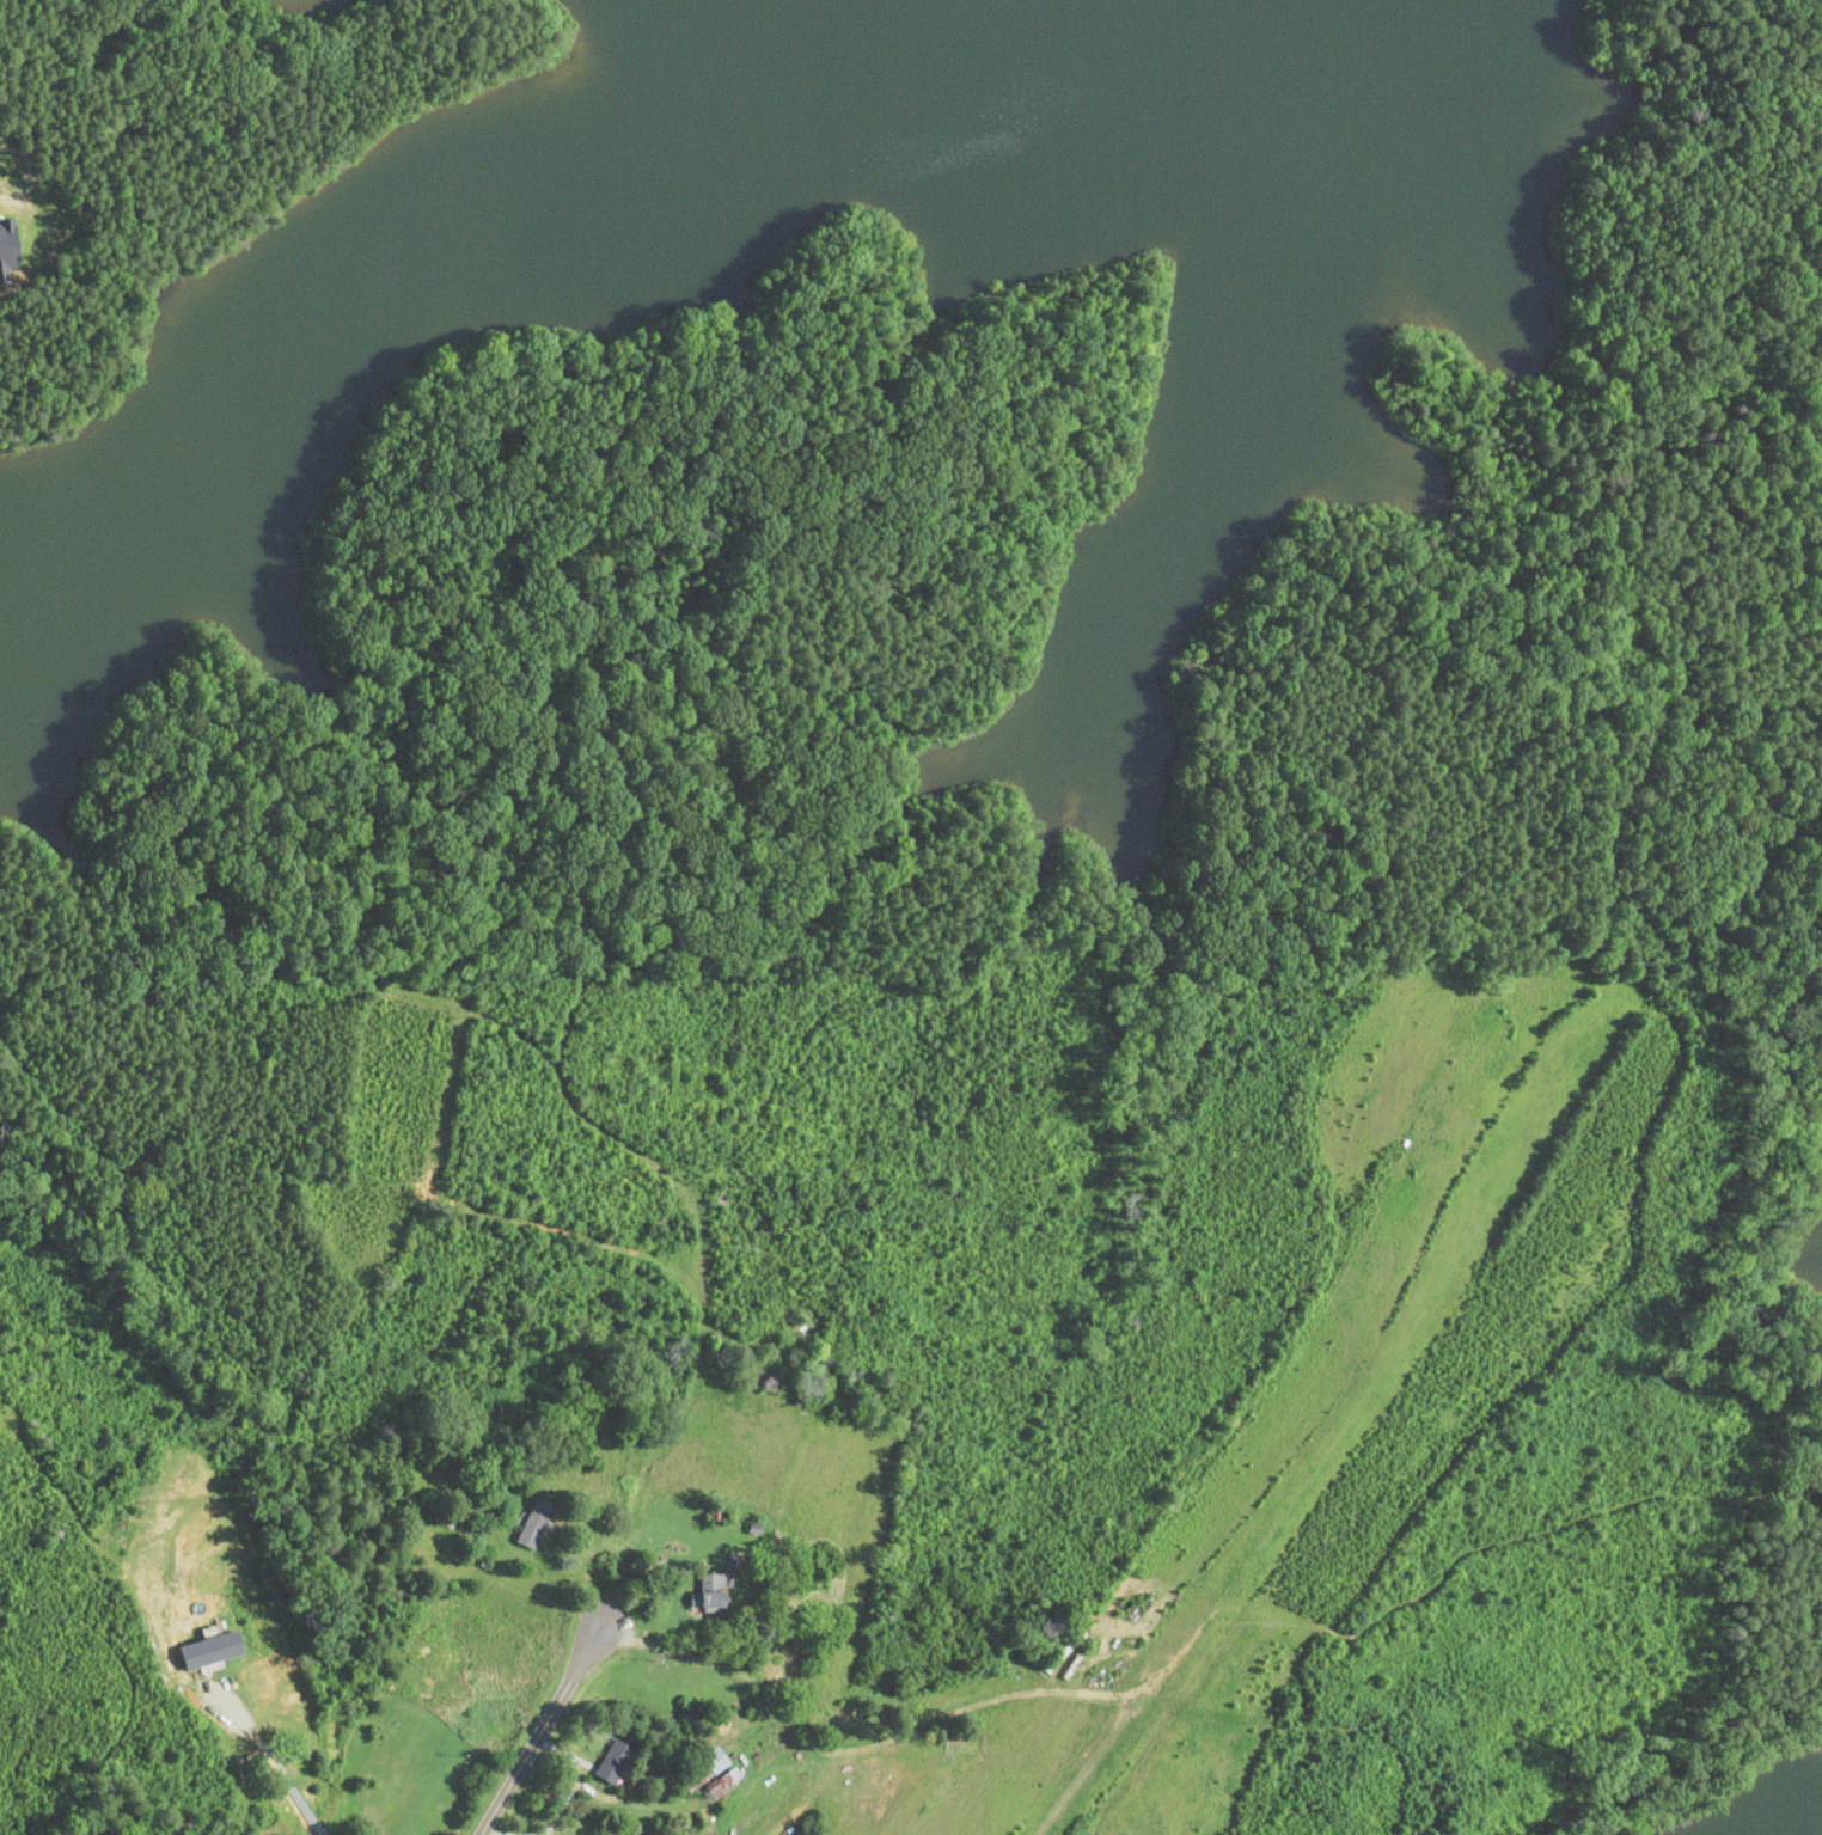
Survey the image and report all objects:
building: (534, 1524)
building: (715, 1592)
road: (548, 1729)
road: (270, 1761)
building: (615, 1762)

